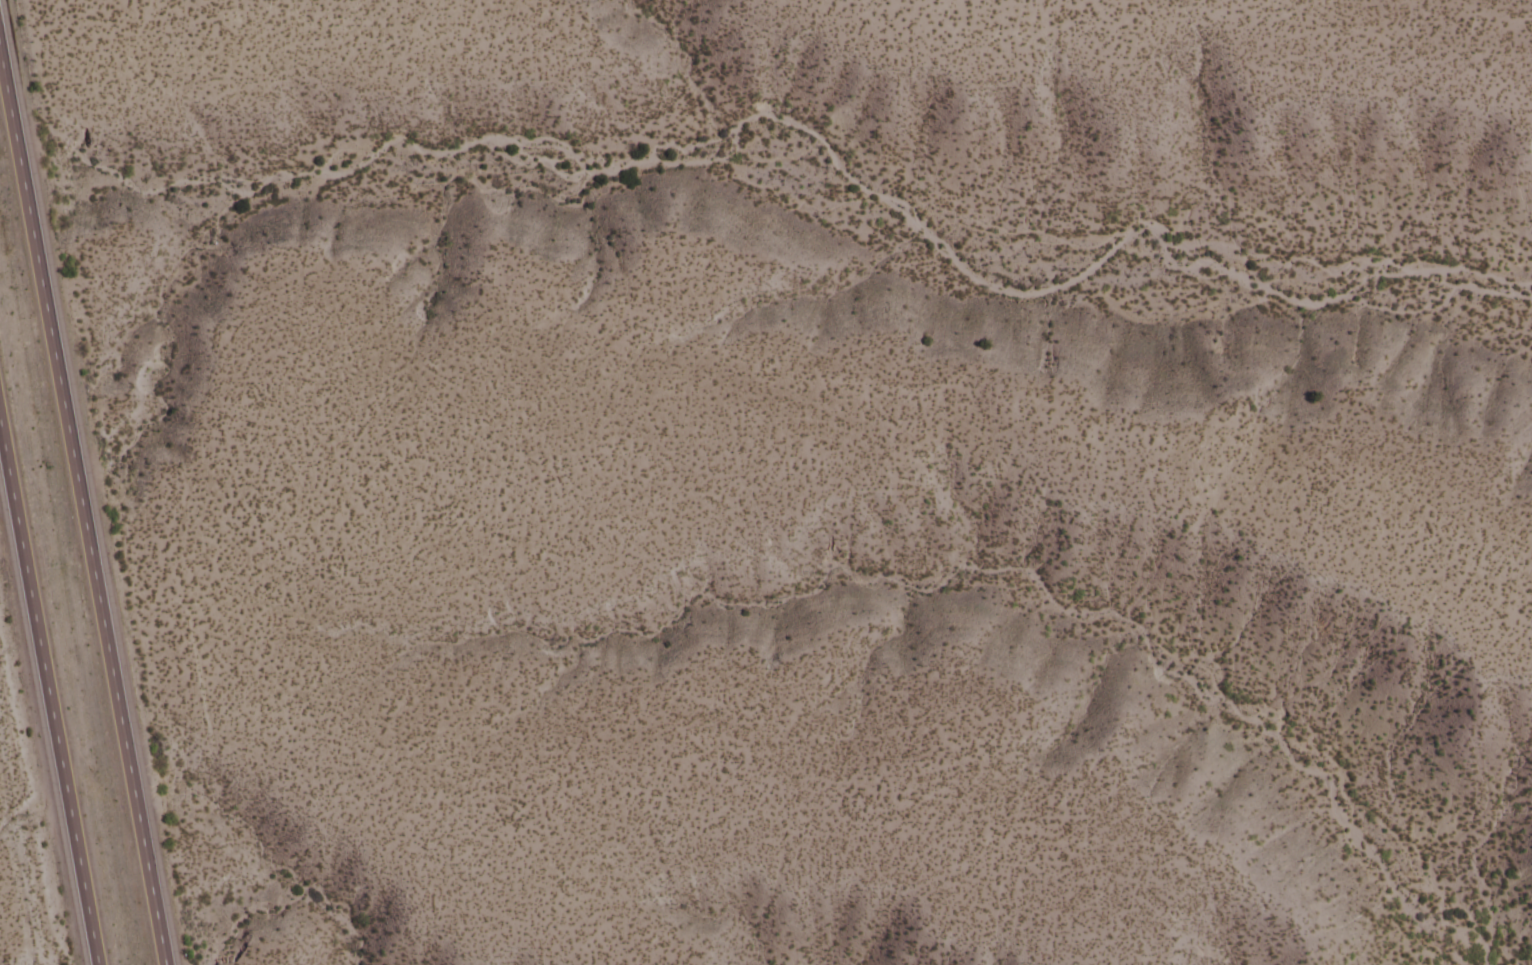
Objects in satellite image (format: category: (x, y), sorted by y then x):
road: (81, 513)
road: (47, 703)

